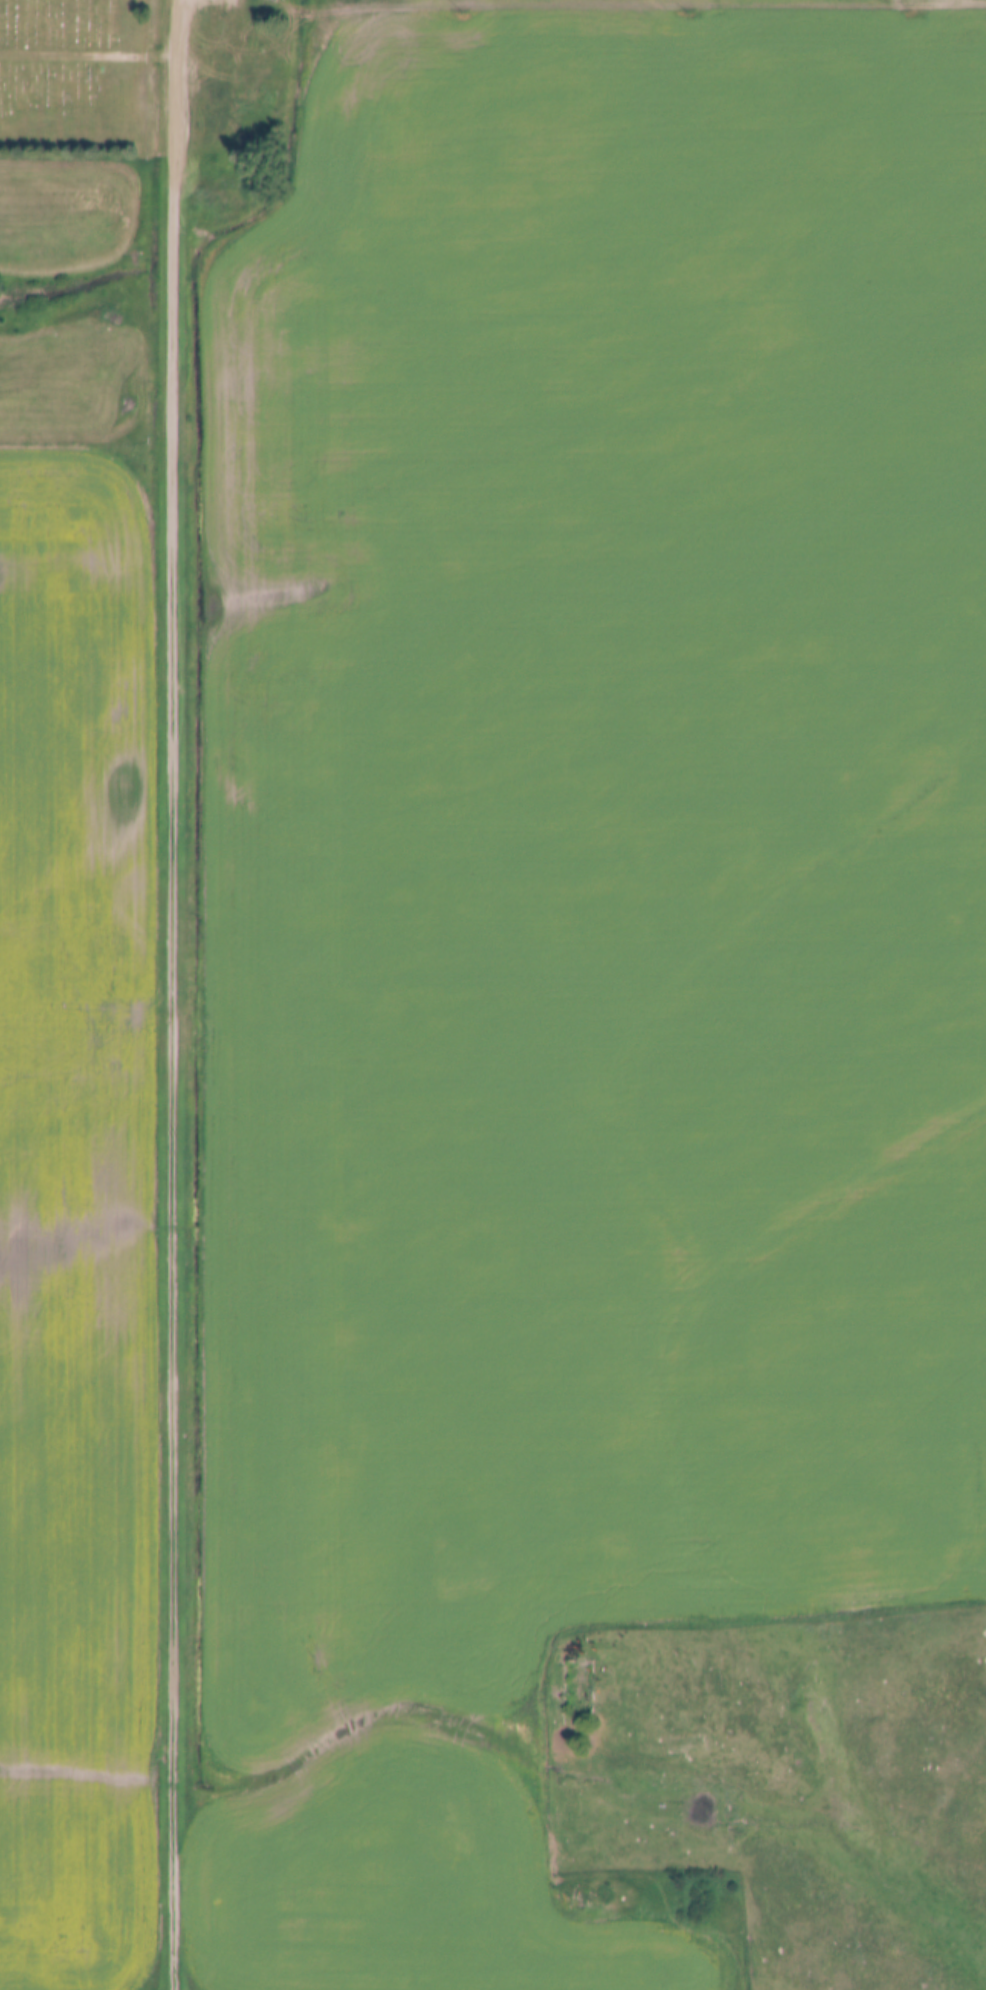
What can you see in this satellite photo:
road: (175, 27)
road: (87, 55)
park: (74, 78)
road: (175, 1022)

